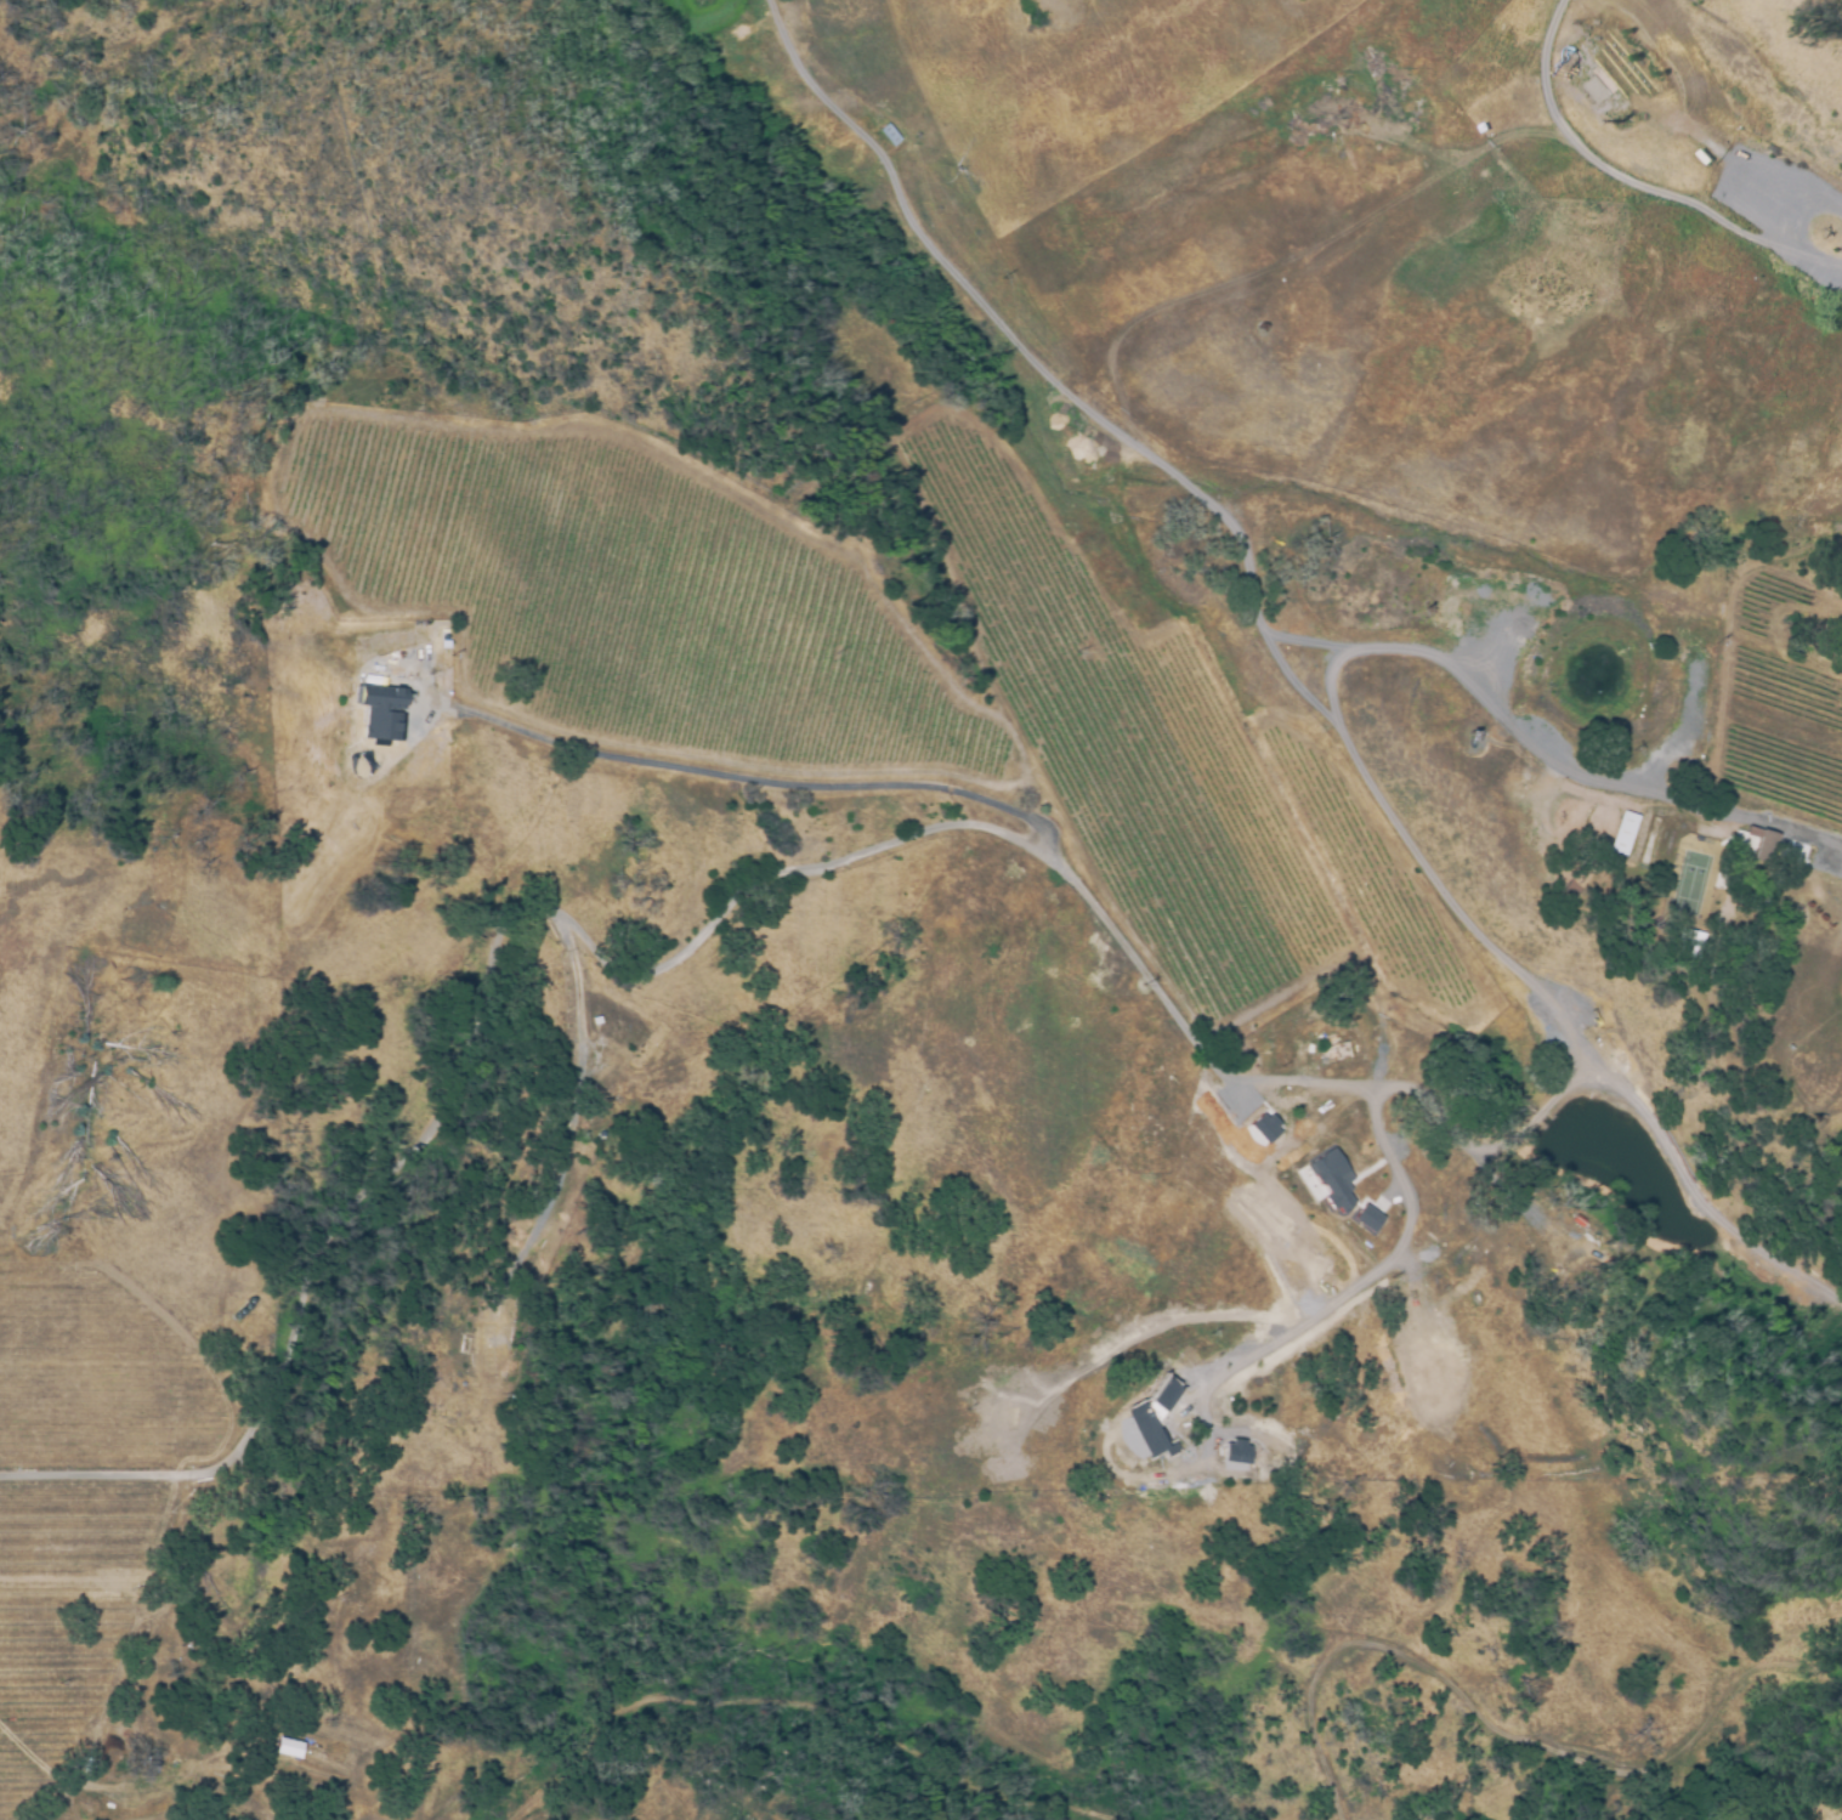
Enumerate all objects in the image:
road: (1672, 197)
road: (1253, 605)
building: (379, 710)
building: (1621, 829)
building: (1755, 839)
road: (730, 902)
road: (1398, 1085)
road: (578, 1102)
building: (1263, 1127)
building: (1331, 1179)
building: (1367, 1218)
building: (1151, 1418)
building: (1235, 1452)
road: (91, 1728)

